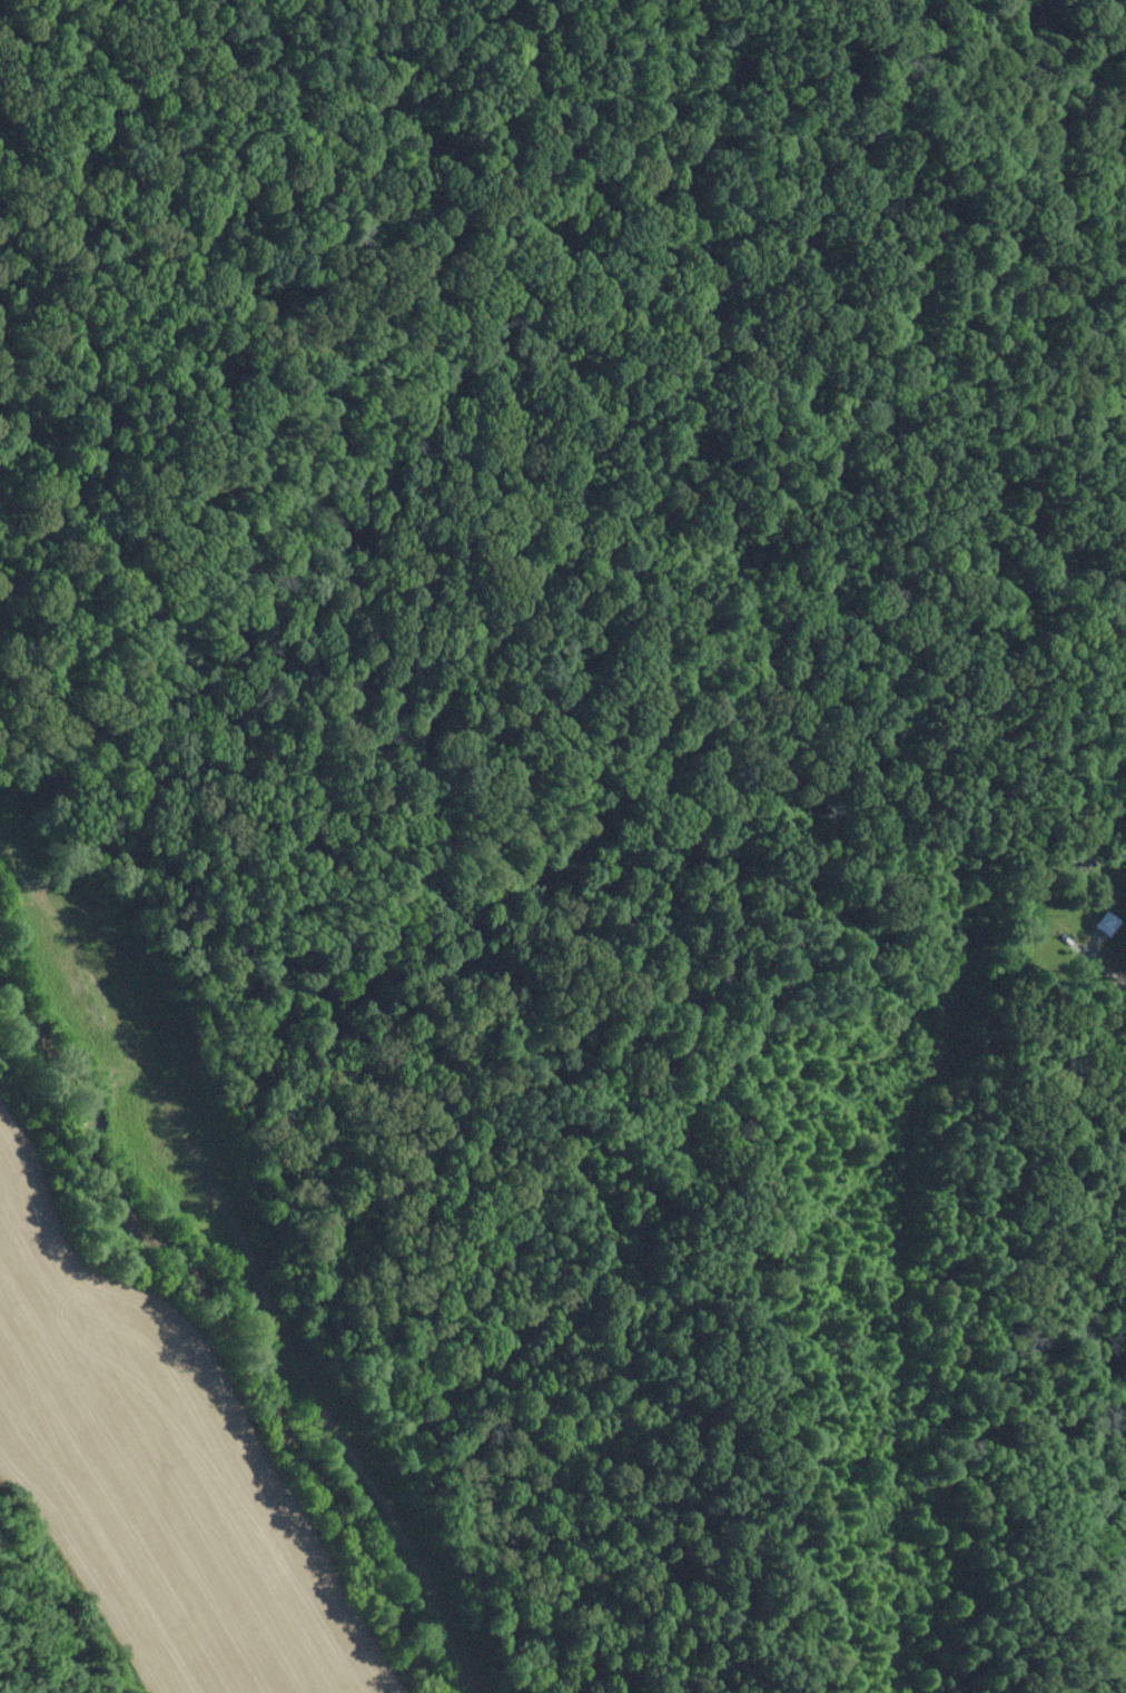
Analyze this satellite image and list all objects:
road: (1098, 966)

